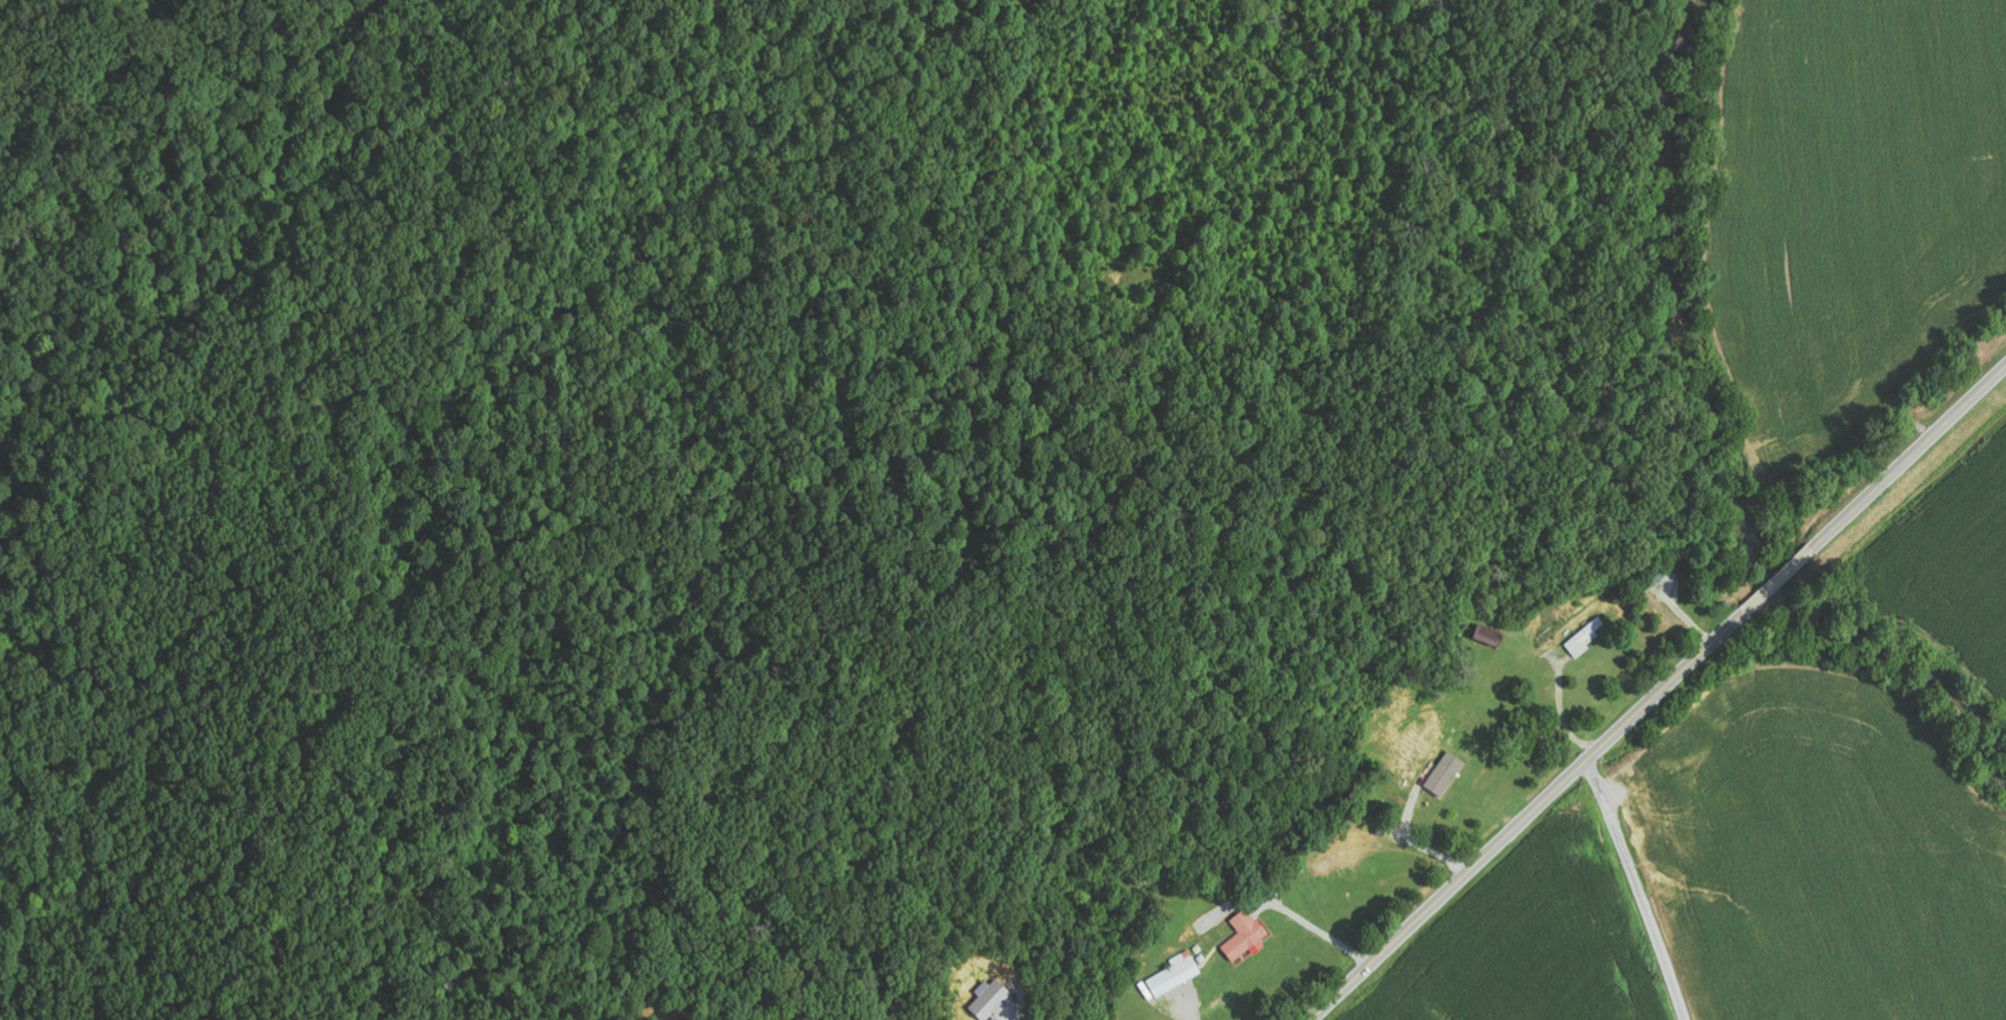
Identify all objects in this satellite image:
building: (1489, 635)
building: (1585, 638)
road: (1659, 693)
building: (1446, 774)
road: (1637, 890)
building: (1245, 936)
building: (1176, 974)
building: (992, 999)

